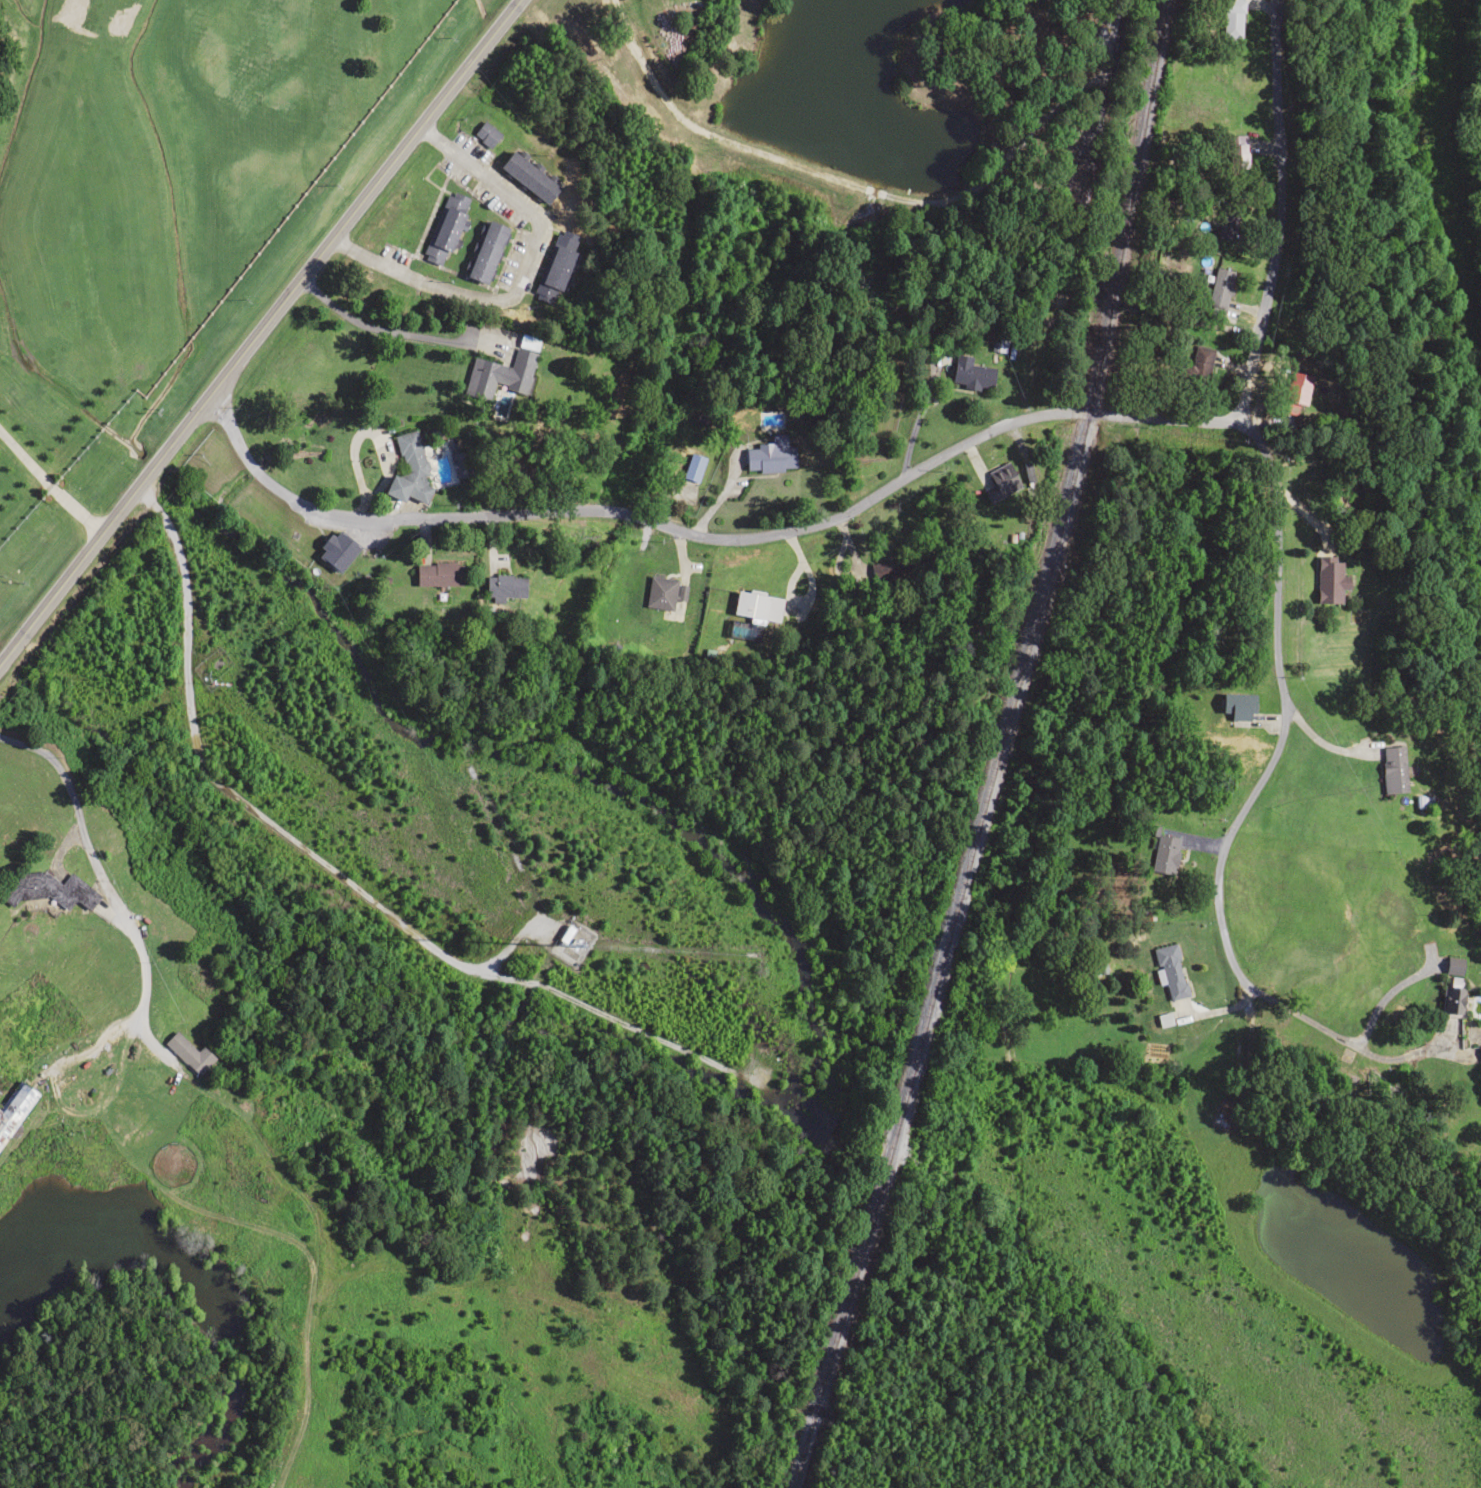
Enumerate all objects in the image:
building: (1232, 18)
building: (486, 134)
building: (1237, 153)
building: (528, 177)
building: (1227, 220)
road: (1269, 223)
building: (445, 228)
building: (486, 252)
building: (556, 267)
road: (468, 280)
building: (1219, 288)
road: (502, 291)
road: (511, 333)
road: (266, 345)
building: (501, 373)
building: (971, 374)
building: (1294, 393)
building: (770, 456)
building: (460, 464)
building: (413, 466)
building: (1002, 480)
road: (183, 514)
road: (728, 534)
building: (335, 550)
road: (188, 552)
road: (243, 557)
road: (151, 565)
building: (889, 569)
building: (438, 574)
road: (103, 579)
building: (1329, 581)
building: (505, 587)
road: (161, 589)
building: (661, 593)
building: (757, 607)
road: (125, 654)
road: (107, 687)
building: (1237, 706)
railway: (999, 749)
road: (1248, 759)
building: (1393, 770)
building: (1164, 855)
building: (49, 891)
building: (1171, 972)
building: (1453, 991)
building: (188, 1052)
building: (1479, 1052)
road: (106, 1053)
building: (13, 1106)

